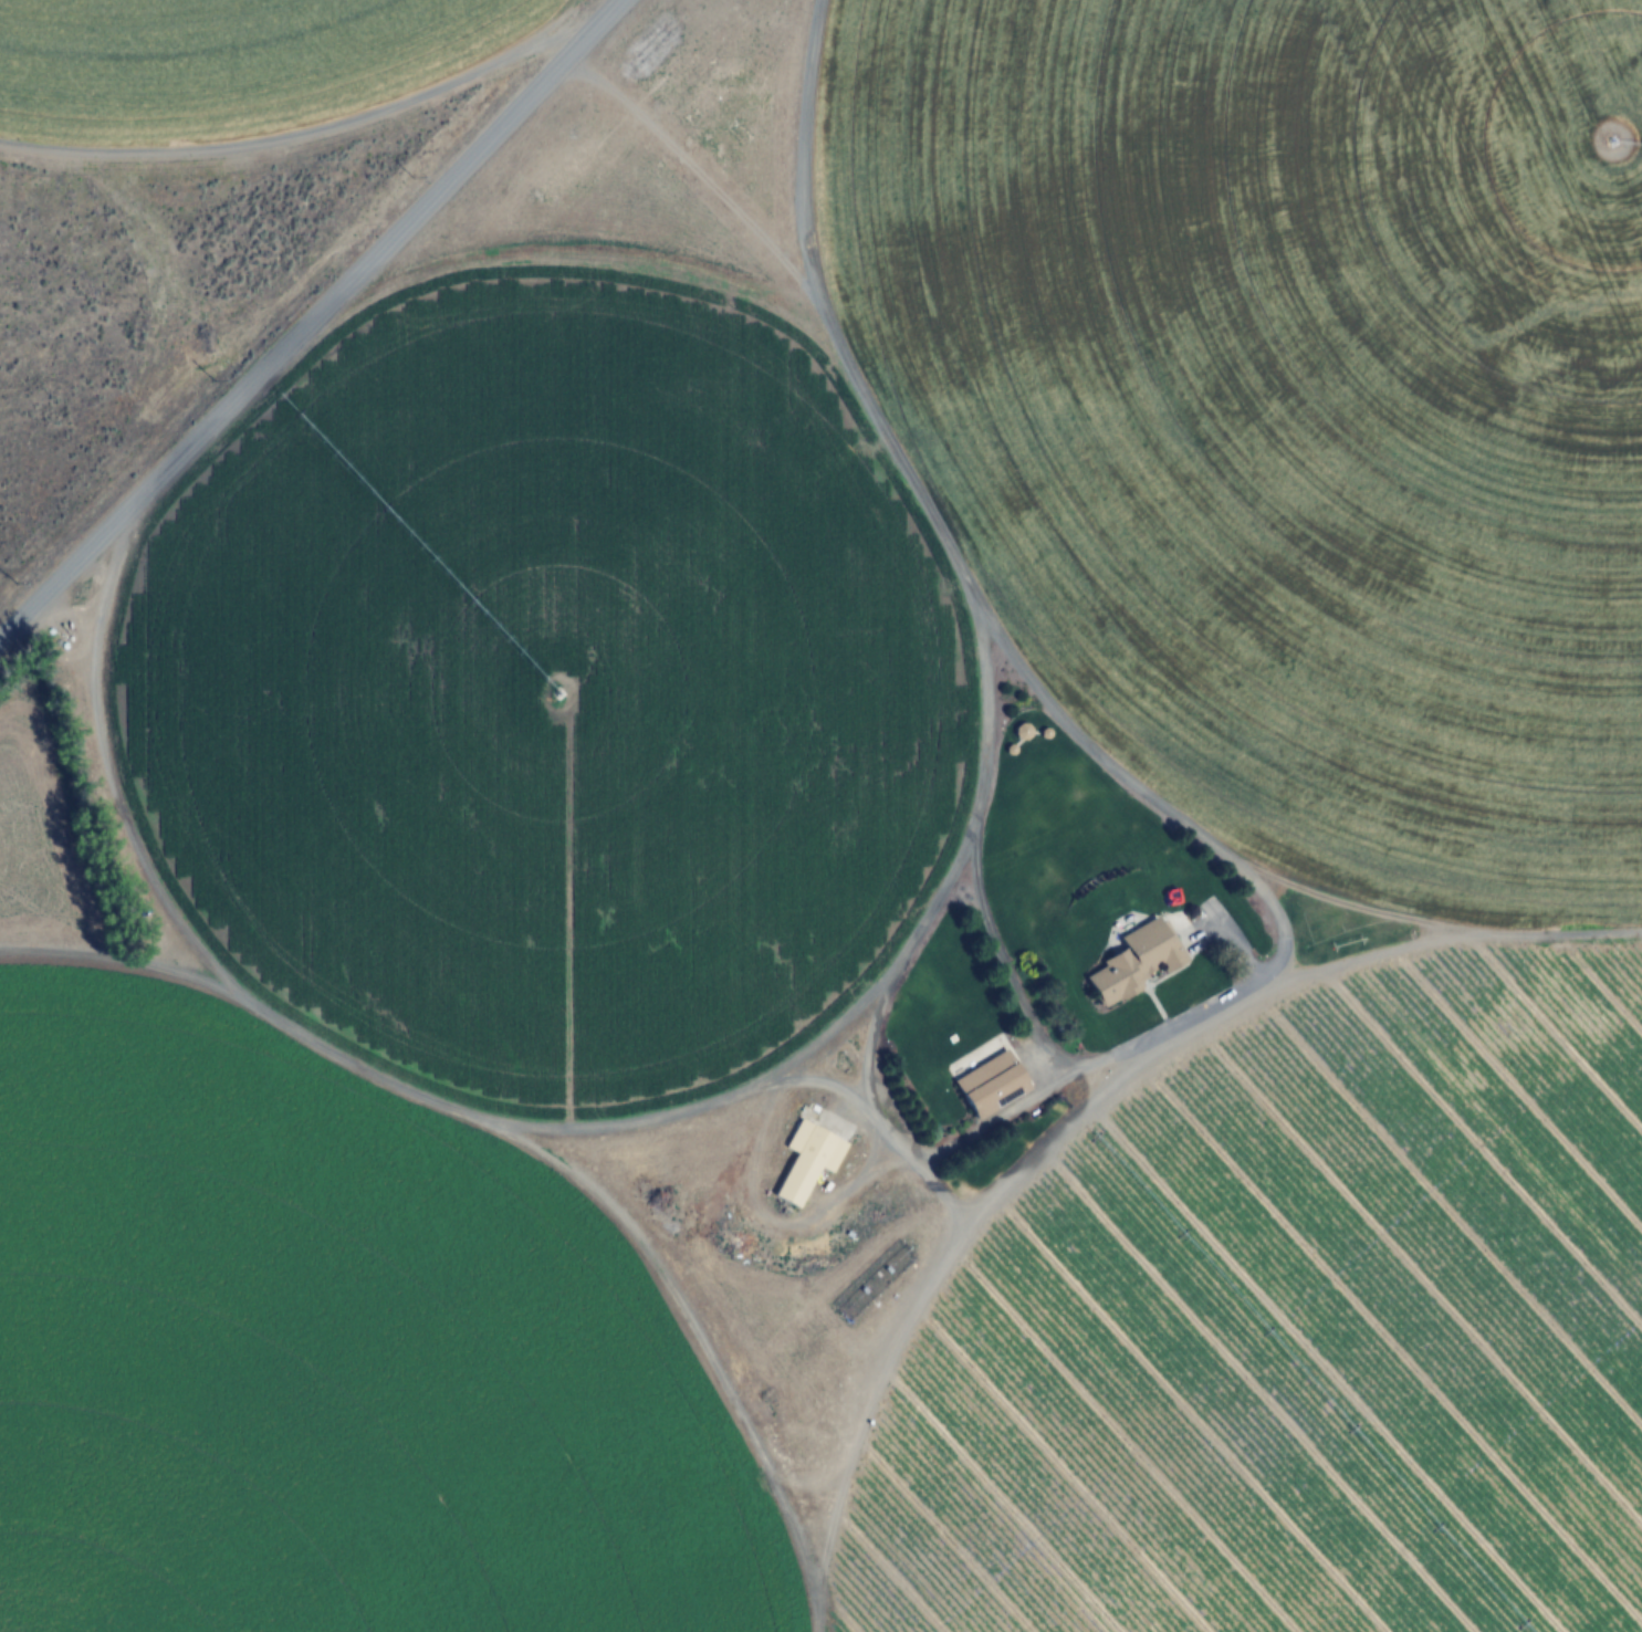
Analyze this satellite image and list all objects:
road: (311, 318)
building: (1132, 962)
building: (990, 1087)
building: (807, 1163)

